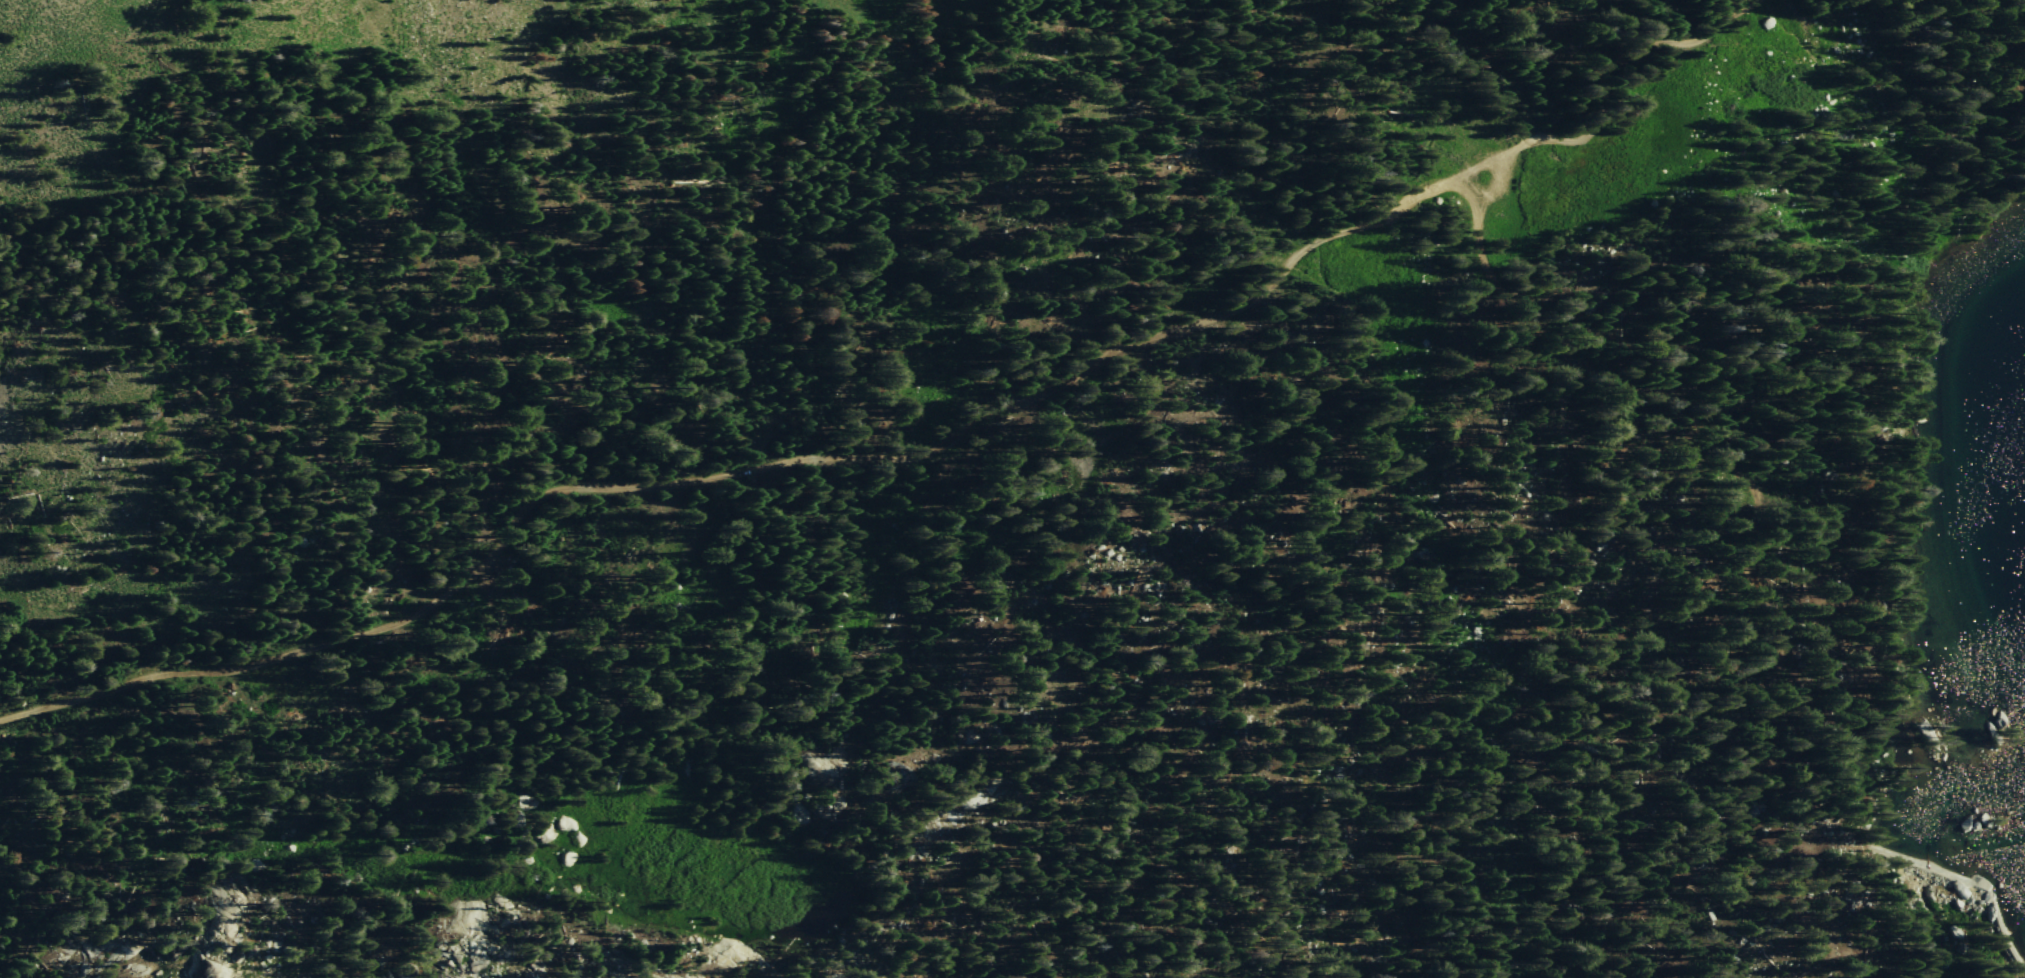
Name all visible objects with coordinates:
road: (1603, 91)
road: (945, 441)
dam: (1967, 882)

